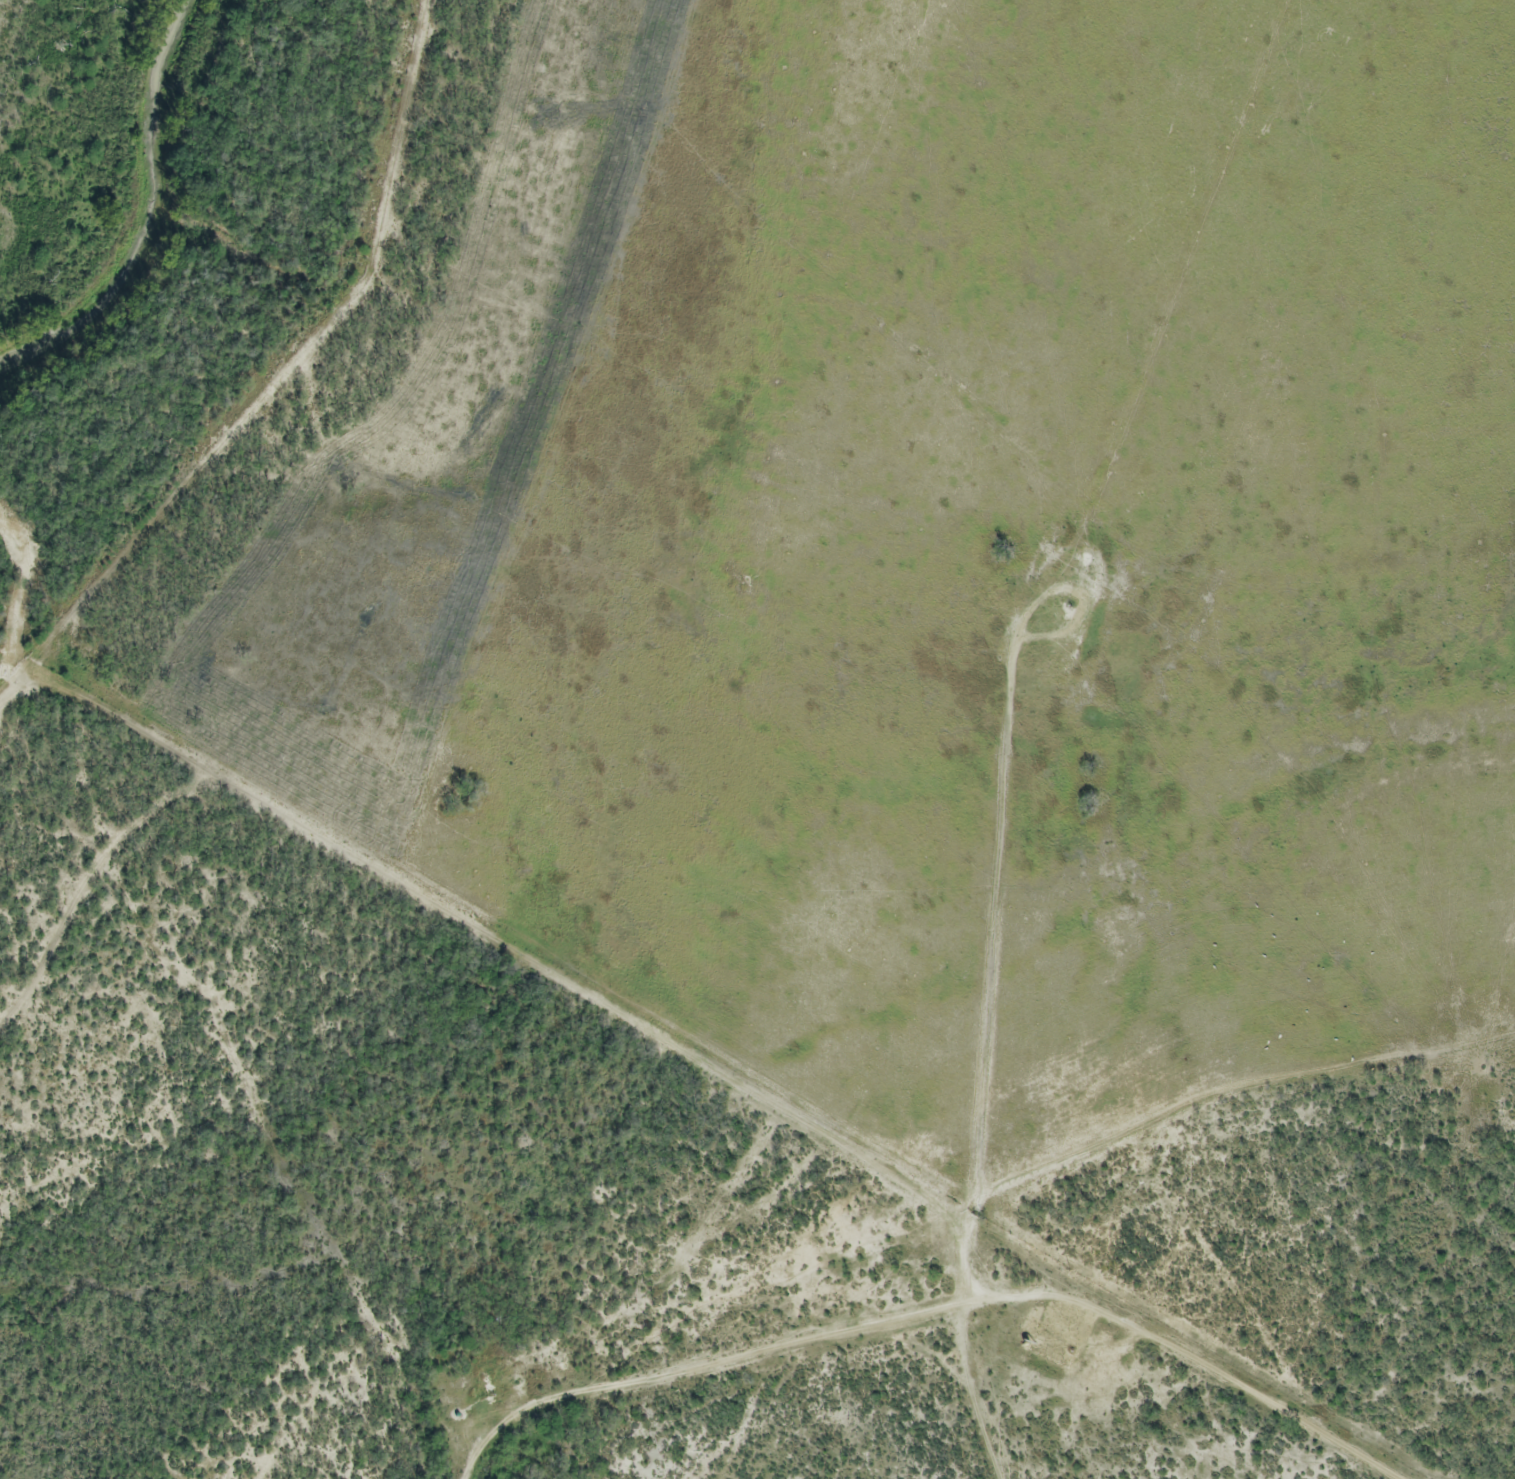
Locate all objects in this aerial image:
river: (143, 219)
road: (83, 903)
road: (401, 918)
road: (1177, 1360)

